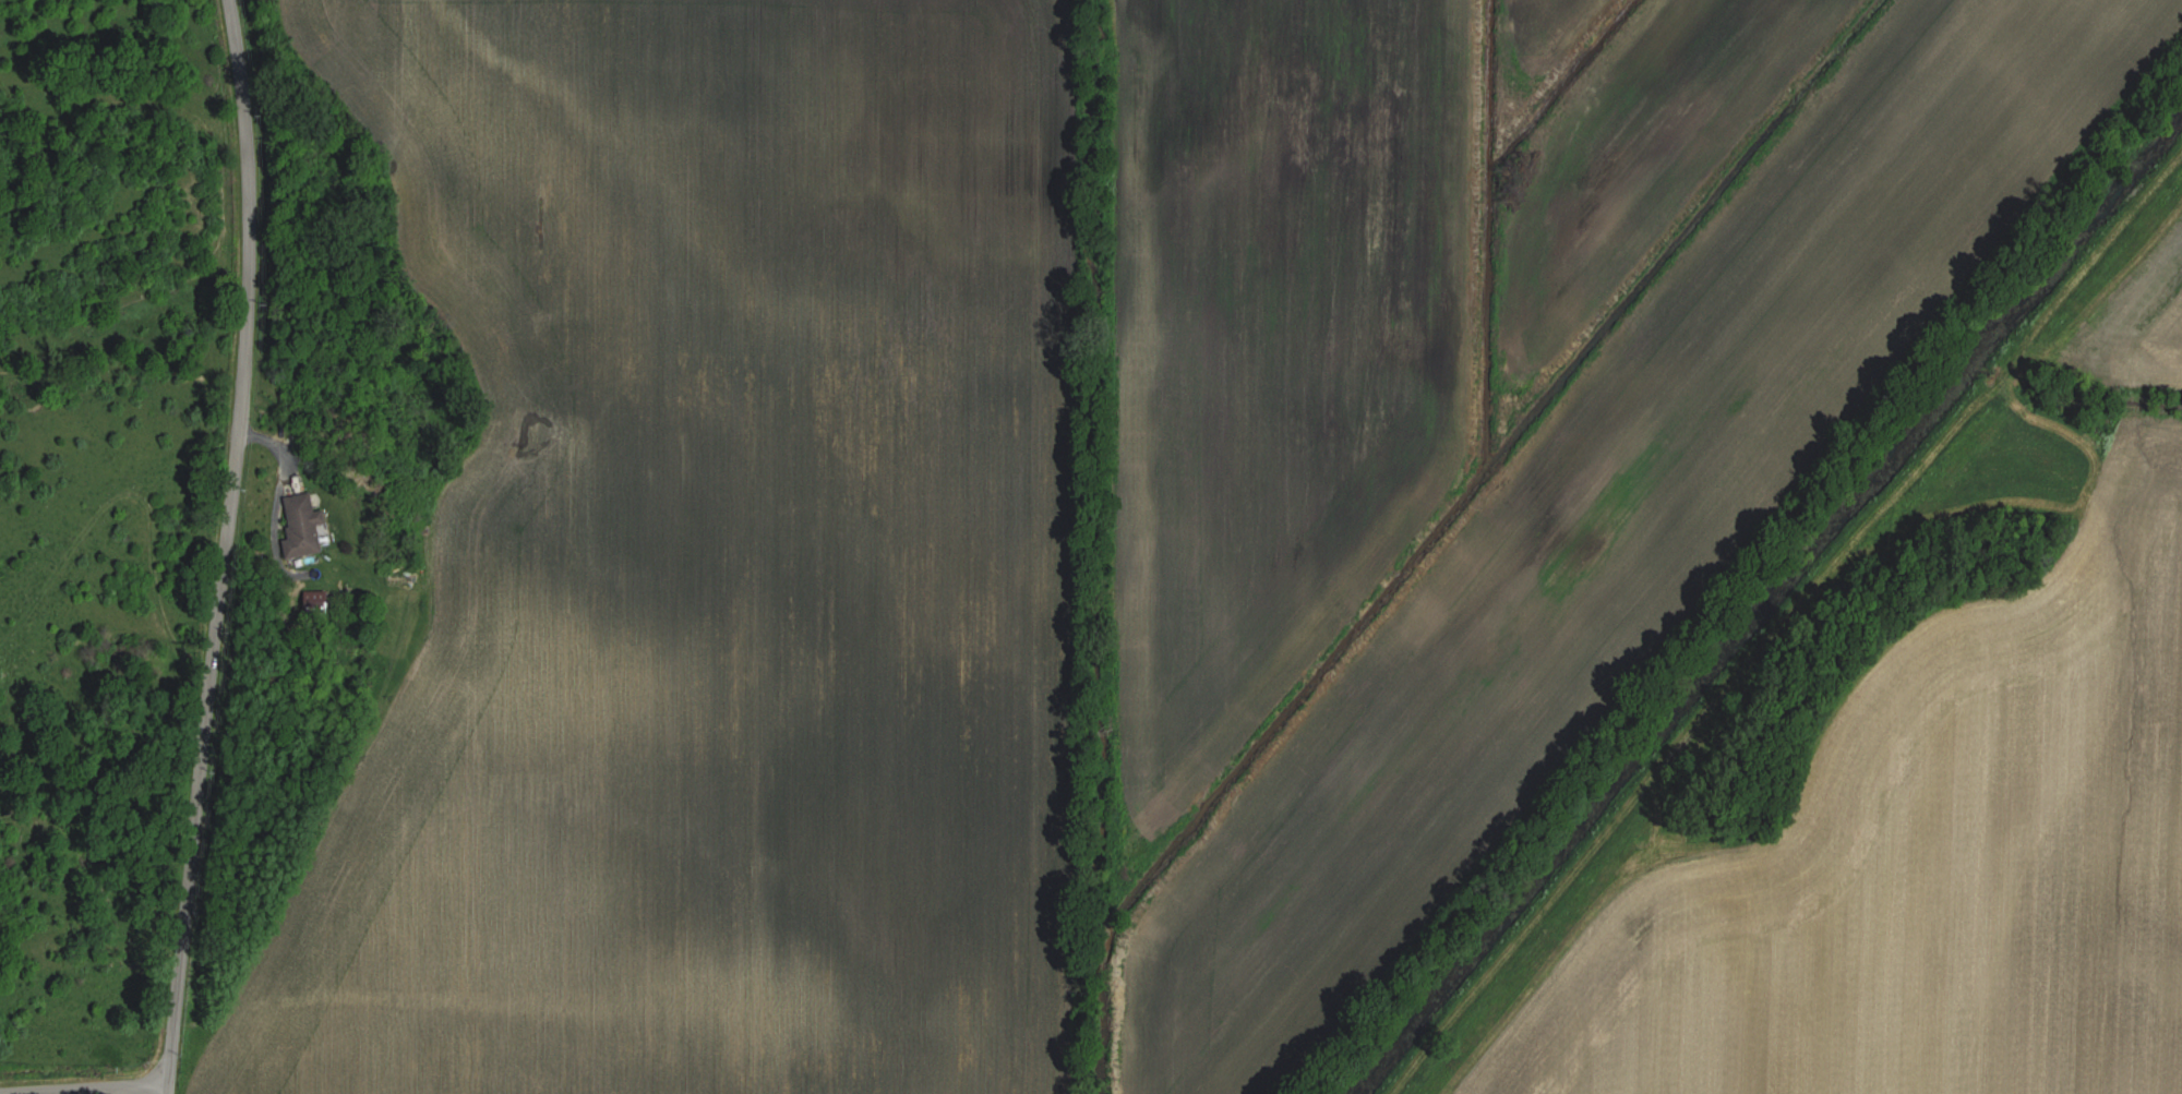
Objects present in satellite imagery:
building: (307, 527)
road: (227, 543)
building: (319, 602)
road: (100, 1090)
road: (169, 1090)

